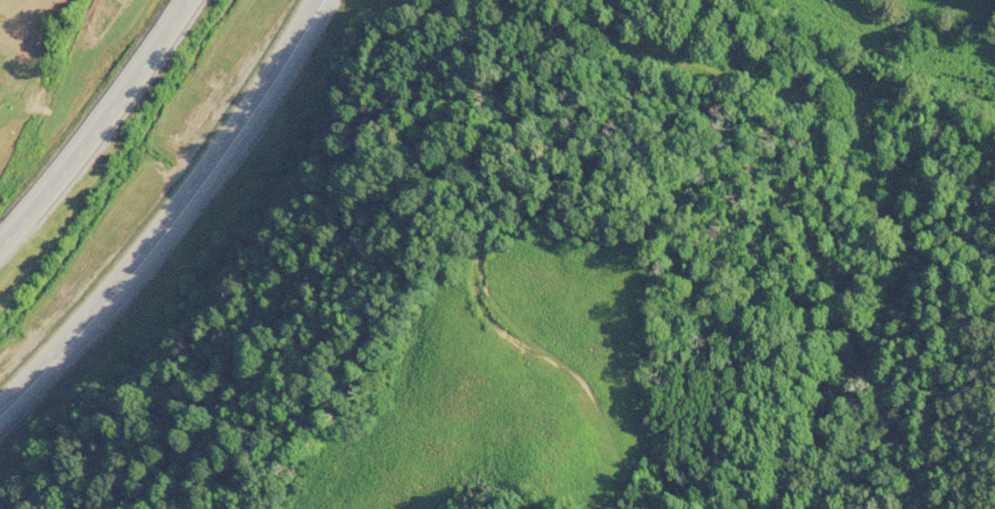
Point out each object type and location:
road: (95, 122)
road: (166, 210)

